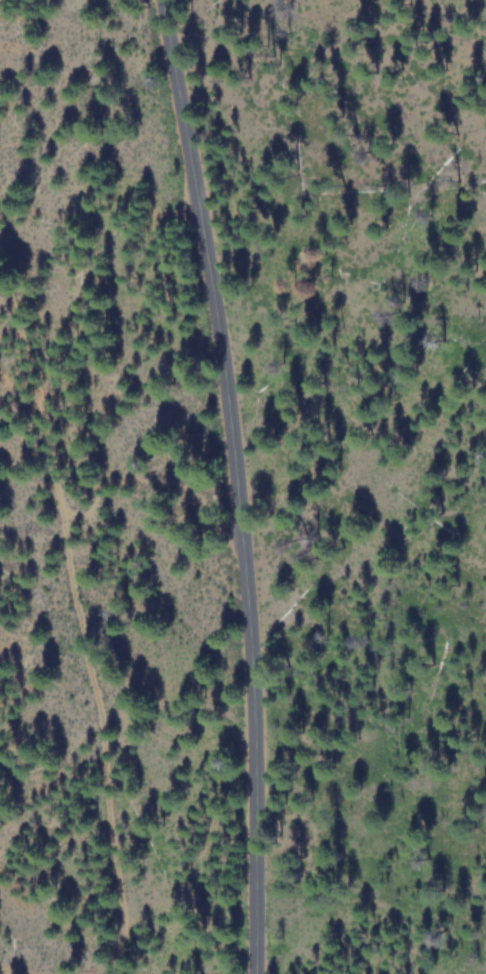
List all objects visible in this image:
road: (229, 484)

